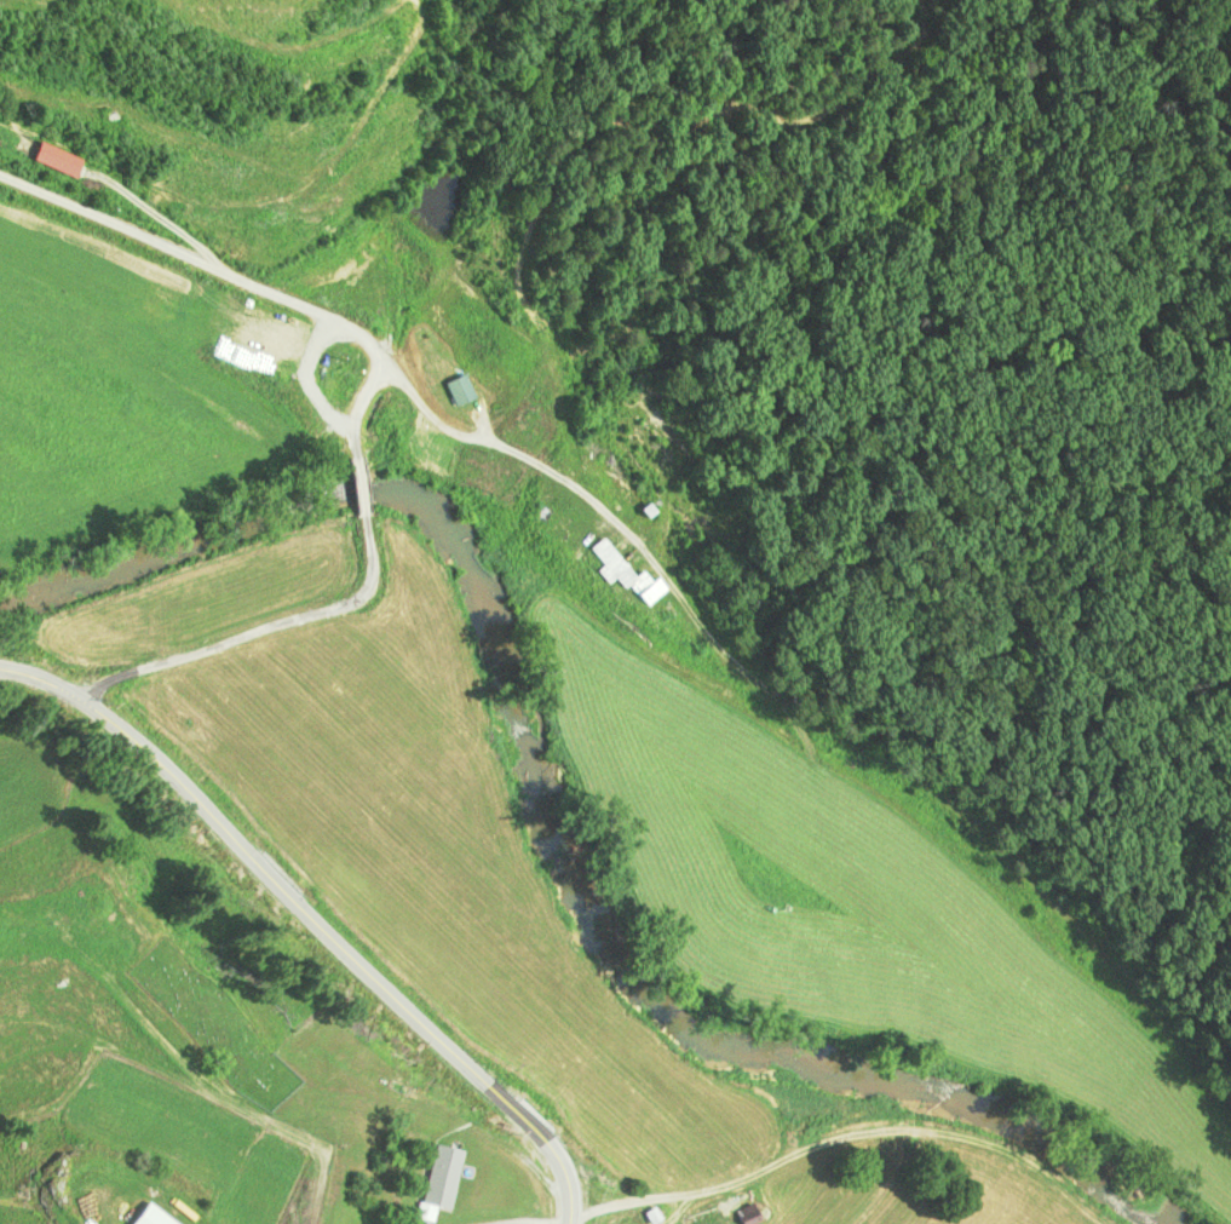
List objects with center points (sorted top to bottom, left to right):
road: (206, 258)
building: (358, 289)
building: (160, 293)
building: (456, 387)
road: (542, 460)
road: (353, 477)
building: (553, 539)
building: (620, 571)
road: (257, 625)
river: (556, 806)
road: (316, 916)
building: (439, 1176)
building: (743, 1214)
building: (145, 1216)

